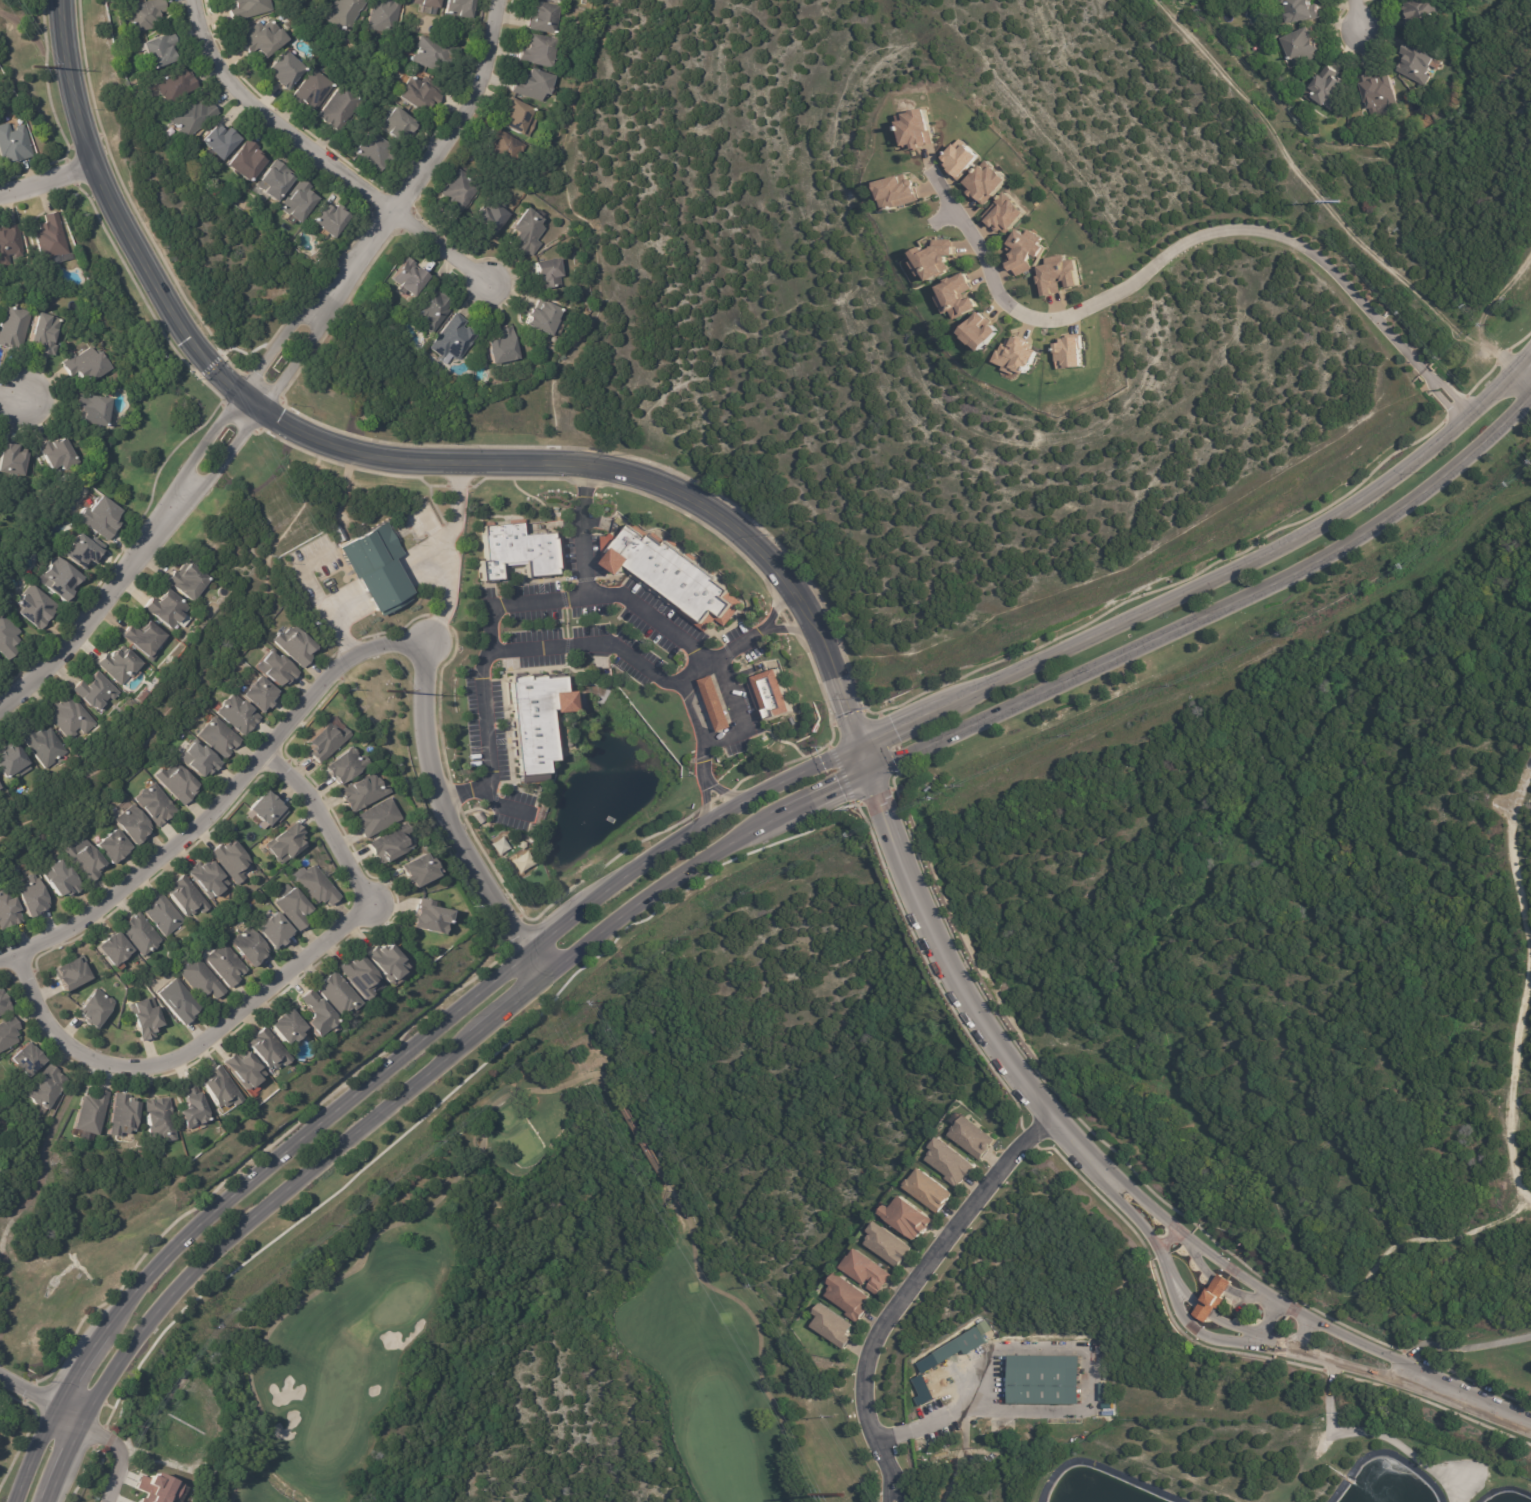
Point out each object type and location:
building: (554, 0)
building: (559, 0)
building: (430, 3)
building: (253, 8)
building: (462, 8)
building: (346, 13)
building: (1296, 13)
road: (1353, 13)
building: (147, 14)
building: (1419, 15)
building: (388, 16)
building: (548, 17)
building: (267, 38)
building: (165, 50)
building: (1300, 50)
building: (543, 51)
building: (436, 53)
building: (1415, 66)
power tower: (31, 67)
building: (286, 69)
building: (178, 84)
building: (538, 84)
building: (315, 90)
building: (420, 92)
building: (1328, 92)
building: (1377, 95)
building: (343, 108)
building: (194, 117)
building: (520, 118)
building: (400, 124)
building: (915, 128)
building: (223, 140)
building: (14, 145)
building: (511, 146)
building: (376, 150)
road: (318, 157)
building: (961, 158)
building: (248, 161)
road: (44, 179)
building: (277, 181)
building: (984, 182)
building: (897, 187)
building: (461, 192)
building: (301, 201)
power tower: (1338, 201)
building: (1003, 212)
building: (493, 216)
road: (114, 217)
building: (330, 218)
road: (942, 218)
building: (525, 230)
building: (51, 238)
road: (1184, 238)
building: (11, 244)
building: (933, 251)
building: (1022, 251)
building: (1057, 273)
building: (549, 274)
building: (411, 277)
building: (958, 292)
building: (433, 310)
building: (543, 316)
building: (978, 326)
building: (14, 327)
building: (48, 334)
building: (454, 339)
building: (503, 348)
building: (1069, 352)
building: (1015, 356)
building: (87, 366)
road: (272, 367)
road: (1521, 379)
road: (12, 397)
building: (97, 410)
building: (61, 455)
building: (16, 462)
road: (629, 478)
building: (102, 518)
building: (337, 533)
building: (85, 552)
building: (517, 552)
road: (442, 555)
building: (374, 571)
building: (674, 579)
building: (62, 581)
building: (191, 583)
building: (37, 608)
building: (167, 609)
road: (492, 615)
parking lot: (656, 620)
road: (760, 630)
building: (9, 637)
building: (147, 641)
building: (296, 645)
road: (634, 660)
building: (0, 665)
road: (714, 665)
building: (121, 666)
building: (279, 667)
road: (341, 667)
power tower: (386, 690)
building: (96, 692)
building: (771, 692)
building: (264, 693)
building: (716, 704)
building: (239, 714)
building: (532, 718)
building: (72, 719)
building: (220, 737)
building: (327, 740)
building: (46, 747)
parking lot: (494, 754)
building: (203, 759)
building: (14, 763)
building: (350, 766)
road: (707, 781)
building: (179, 784)
building: (0, 789)
road: (465, 791)
building: (363, 793)
building: (157, 805)
building: (268, 809)
building: (380, 817)
building: (135, 826)
road: (698, 832)
building: (288, 843)
building: (392, 845)
building: (114, 846)
road: (714, 856)
building: (88, 860)
building: (235, 860)
building: (417, 871)
building: (63, 879)
building: (211, 880)
building: (317, 885)
building: (33, 898)
building: (189, 901)
building: (297, 906)
building: (10, 909)
building: (165, 915)
building: (424, 918)
building: (278, 930)
building: (143, 934)
building: (251, 947)
building: (115, 949)
building: (392, 962)
building: (227, 965)
building: (73, 974)
building: (362, 976)
building: (200, 979)
road: (961, 984)
road: (1524, 985)
road: (263, 992)
building: (342, 994)
building: (180, 1001)
building: (5, 1003)
building: (96, 1009)
building: (319, 1013)
building: (147, 1019)
building: (289, 1027)
building: (8, 1034)
building: (271, 1049)
building: (29, 1060)
building: (247, 1070)
building: (48, 1087)
building: (221, 1088)
building: (195, 1106)
building: (92, 1112)
building: (124, 1115)
building: (161, 1120)
building: (970, 1135)
building: (949, 1162)
building: (926, 1188)
building: (905, 1215)
road: (1166, 1239)
building: (885, 1243)
park: (388, 1268)
building: (865, 1272)
road: (1173, 1274)
road: (1245, 1278)
road: (902, 1285)
building: (845, 1296)
building: (1212, 1297)
road: (1270, 1317)
building: (830, 1325)
road: (1240, 1328)
road: (1207, 1333)
road: (1303, 1335)
building: (961, 1345)
road: (1460, 1348)
building: (1044, 1379)
building: (1102, 1391)
building: (1001, 1398)
road: (41, 1399)
road: (1466, 1400)
road: (1088, 1403)
road: (117, 1455)
building: (158, 1489)
power tower: (841, 1496)

